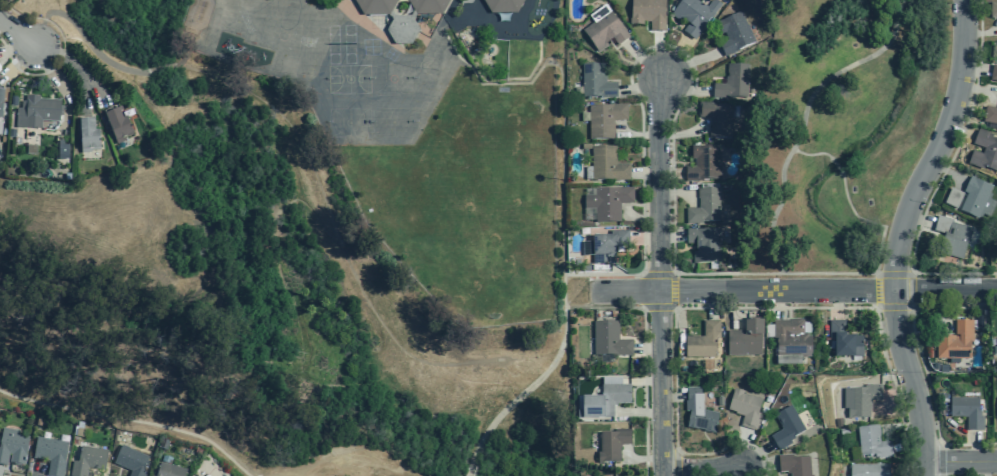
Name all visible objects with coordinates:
road: (896, 4)
building: (502, 6)
building: (993, 10)
building: (647, 13)
building: (694, 15)
building: (401, 16)
road: (1, 21)
building: (604, 31)
road: (39, 32)
building: (733, 33)
road: (982, 33)
road: (16, 34)
road: (90, 44)
road: (11, 46)
road: (62, 53)
road: (658, 56)
road: (673, 57)
road: (643, 60)
road: (16, 62)
road: (688, 63)
road: (631, 66)
road: (76, 67)
road: (974, 67)
road: (158, 68)
building: (994, 73)
park: (390, 78)
park: (348, 79)
building: (595, 82)
road: (61, 83)
building: (732, 83)
road: (685, 84)
road: (641, 85)
road: (981, 91)
building: (1, 105)
building: (36, 112)
road: (561, 115)
building: (990, 115)
road: (426, 117)
road: (804, 118)
building: (716, 119)
building: (604, 120)
park: (350, 122)
park: (392, 122)
building: (117, 125)
park: (836, 129)
road: (959, 130)
road: (683, 133)
road: (637, 134)
building: (88, 136)
road: (937, 146)
building: (31, 150)
building: (62, 151)
road: (814, 154)
building: (985, 154)
building: (703, 164)
building: (606, 165)
road: (837, 166)
road: (949, 172)
road: (644, 173)
road: (669, 173)
road: (941, 177)
road: (678, 190)
building: (972, 199)
building: (608, 203)
building: (704, 207)
road: (638, 217)
road: (918, 220)
building: (952, 236)
road: (645, 237)
road: (671, 237)
building: (704, 245)
building: (607, 246)
road: (341, 253)
road: (911, 272)
road: (834, 273)
road: (875, 273)
road: (658, 274)
road: (659, 276)
park: (248, 290)
road: (595, 290)
road: (877, 290)
road: (910, 290)
road: (945, 290)
road: (596, 291)
road: (673, 291)
road: (746, 291)
road: (712, 304)
road: (778, 304)
road: (837, 304)
road: (603, 307)
road: (659, 307)
road: (733, 308)
road: (876, 308)
road: (911, 308)
road: (730, 309)
road: (937, 312)
building: (610, 339)
building: (791, 339)
building: (745, 340)
building: (844, 340)
building: (703, 341)
building: (955, 342)
road: (647, 349)
road: (921, 362)
building: (935, 367)
building: (942, 368)
road: (534, 381)
road: (647, 381)
road: (912, 382)
road: (644, 391)
road: (898, 392)
road: (670, 396)
building: (605, 399)
building: (863, 400)
building: (744, 407)
building: (698, 411)
building: (967, 412)
road: (639, 414)
road: (130, 420)
building: (838, 422)
road: (903, 426)
building: (785, 428)
building: (843, 430)
building: (872, 442)
building: (612, 445)
building: (11, 446)
road: (974, 447)
road: (742, 449)
building: (50, 455)
road: (755, 456)
road: (641, 458)
road: (941, 458)
building: (88, 460)
building: (130, 460)
road: (959, 461)
road: (676, 462)
road: (756, 464)
building: (794, 465)
road: (986, 468)
road: (701, 469)
road: (36, 470)
building: (169, 470)
building: (868, 470)
road: (745, 472)
building: (150, 475)

